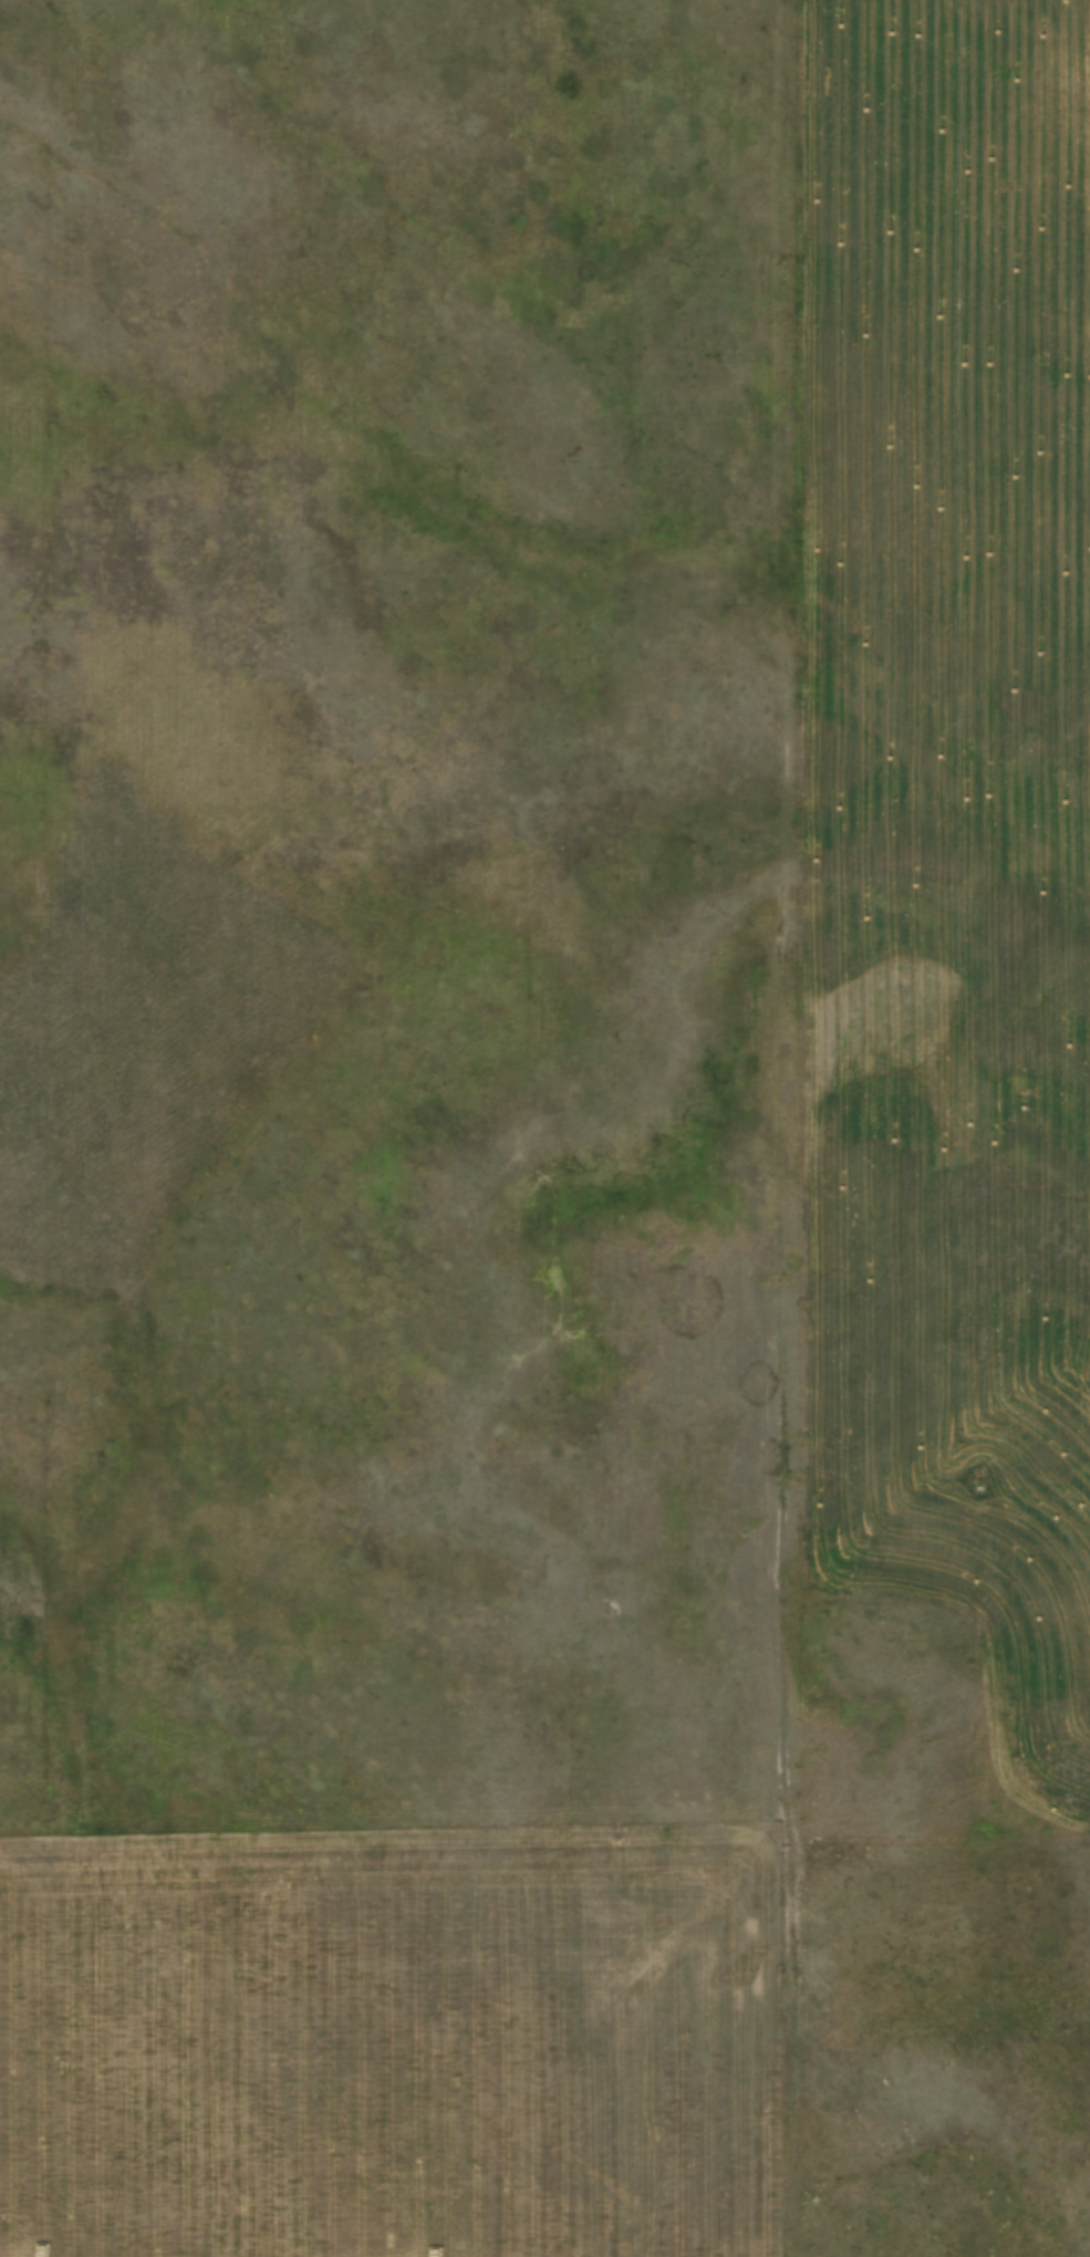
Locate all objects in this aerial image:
road: (789, 917)

